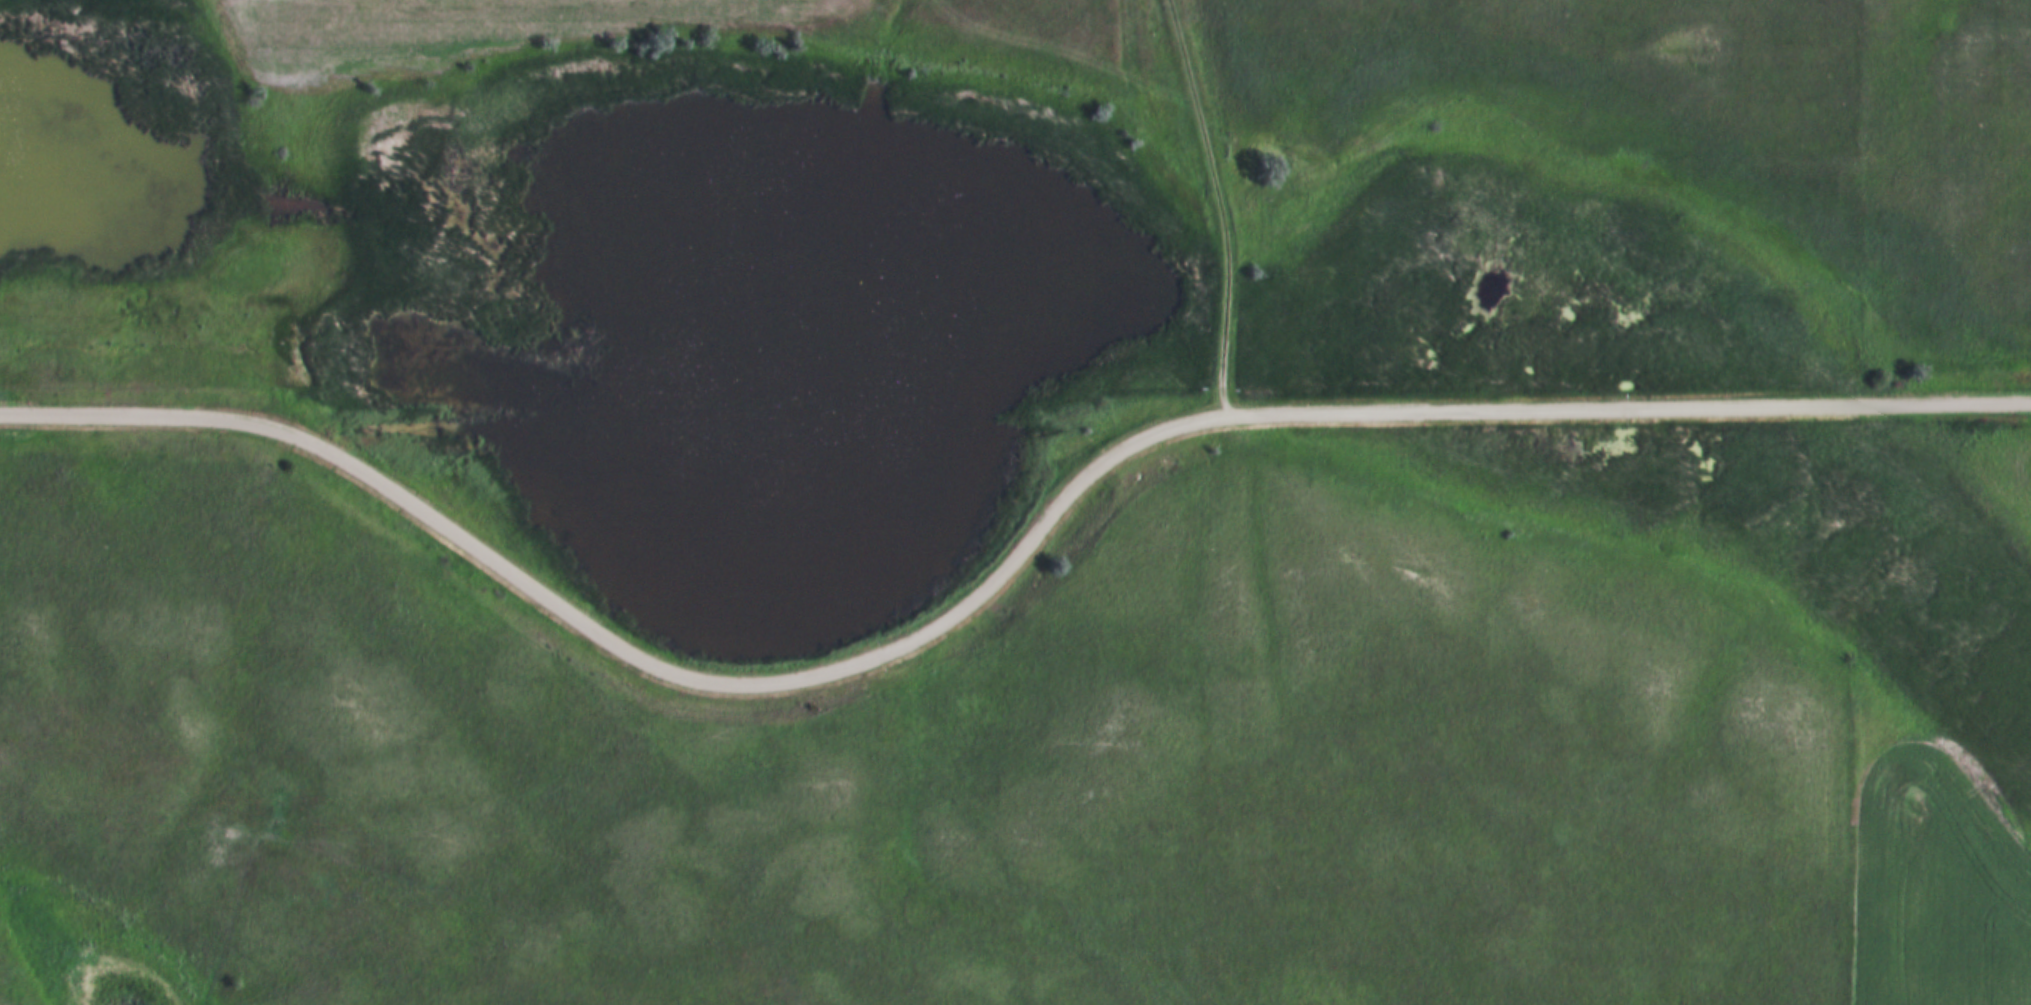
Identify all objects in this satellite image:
road: (1223, 202)
road: (995, 573)

